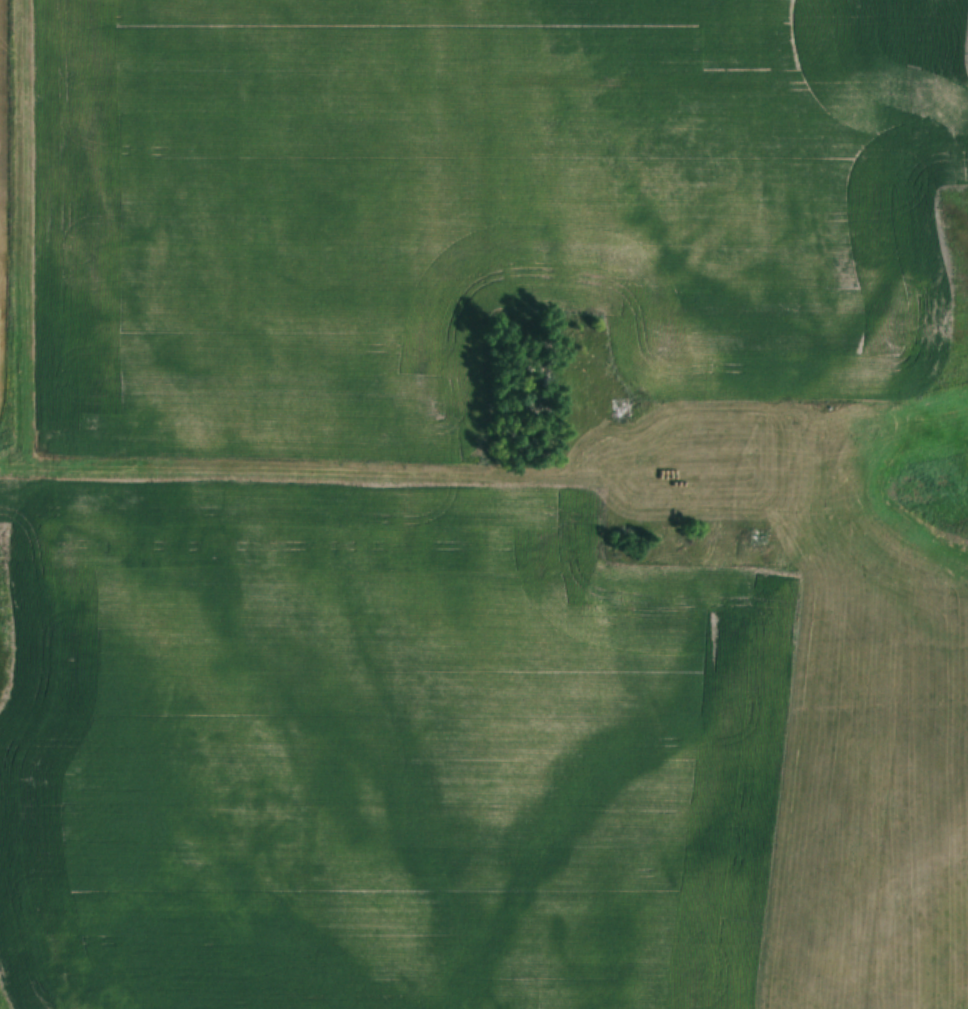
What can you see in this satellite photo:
building: (888, 807)

